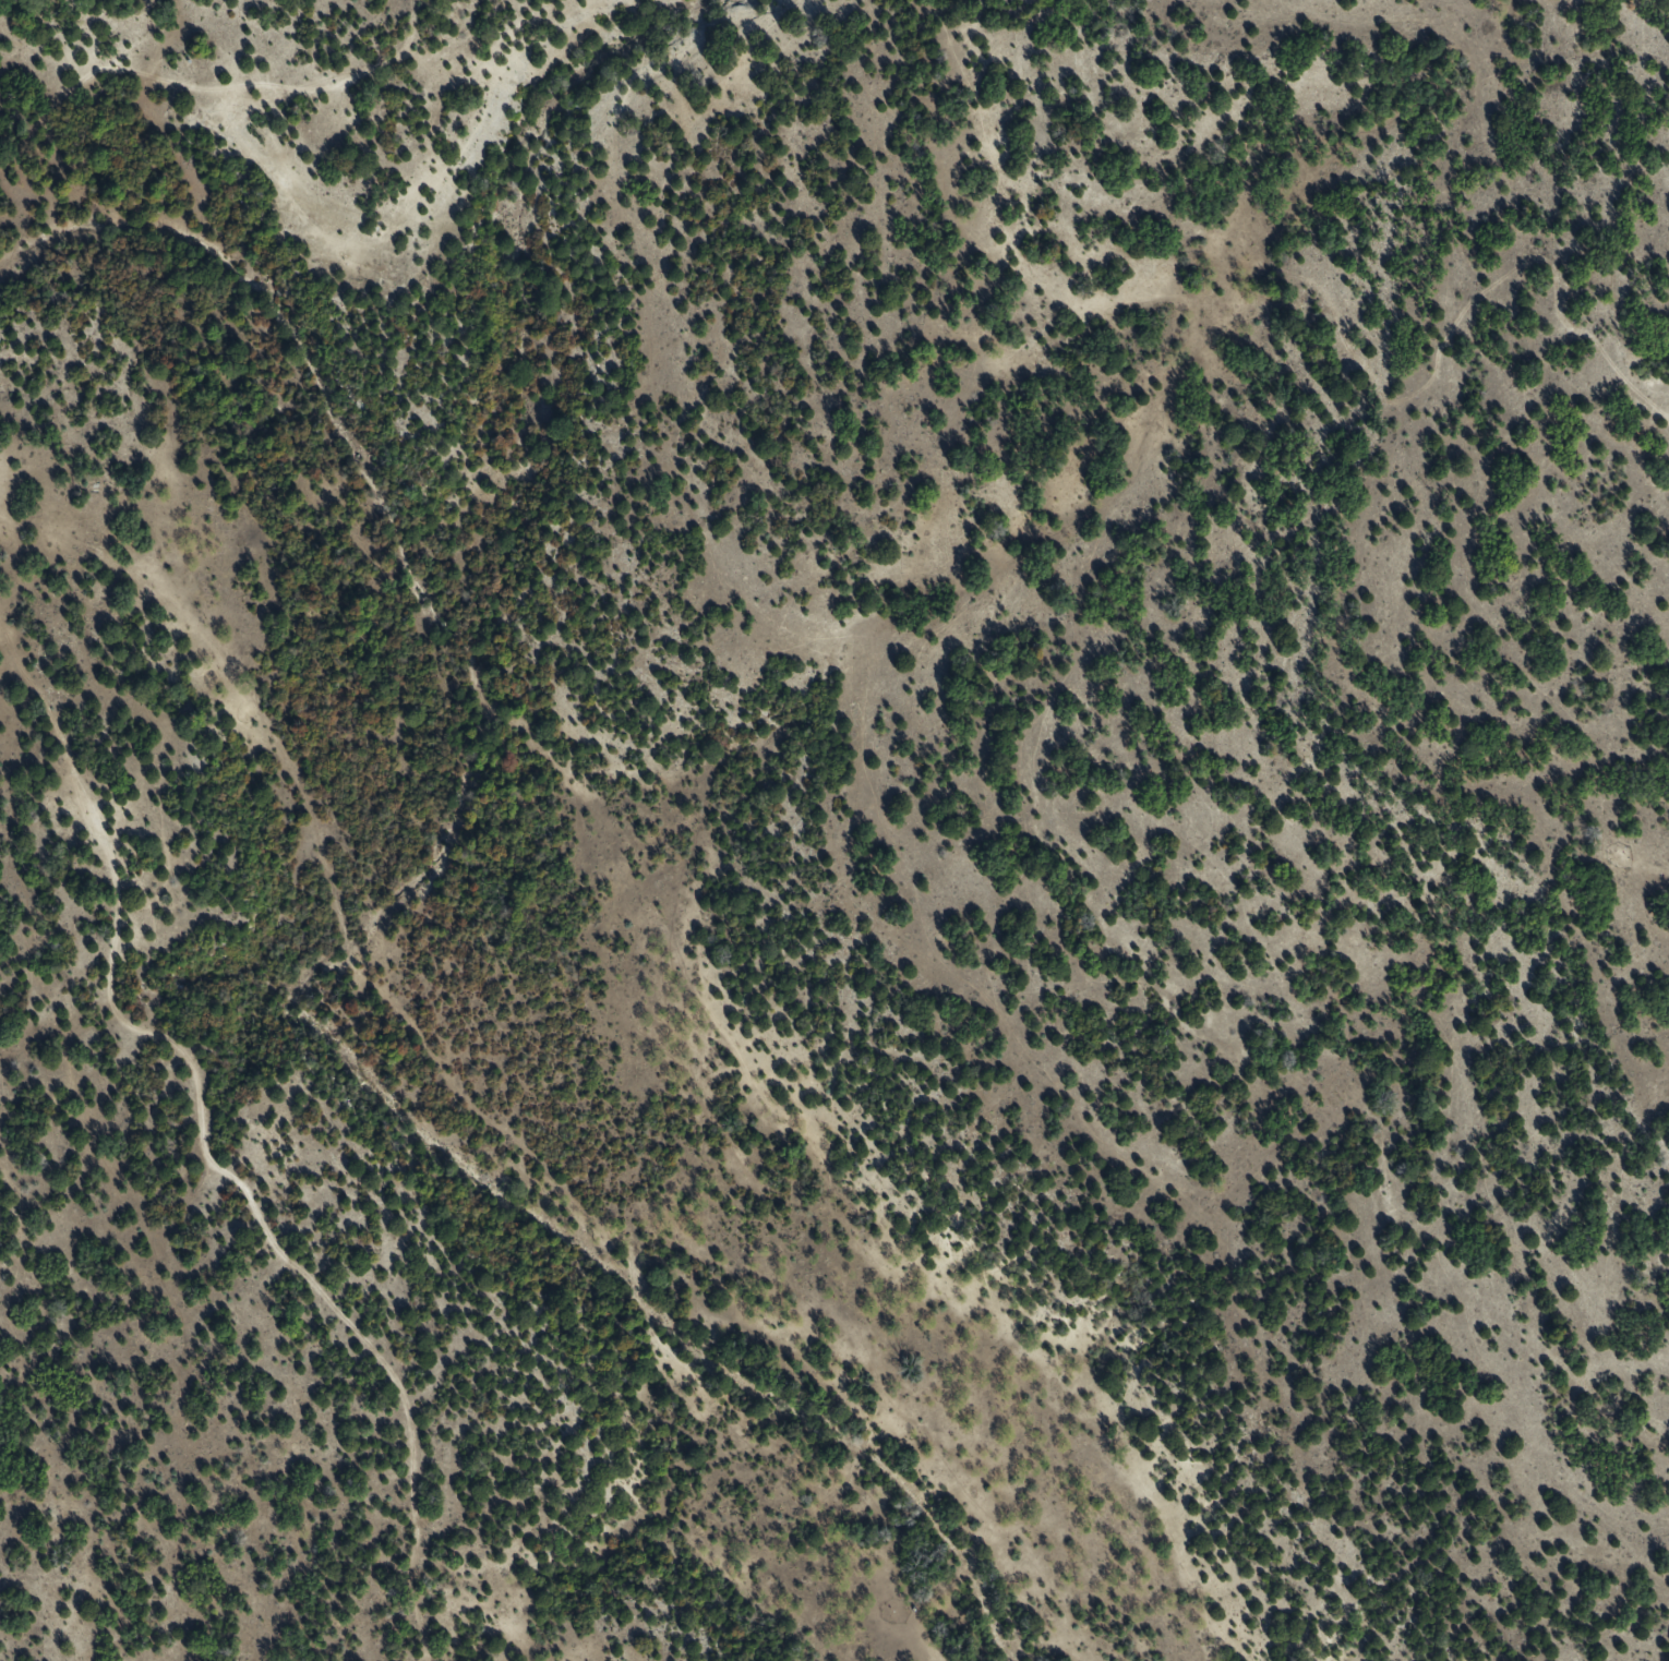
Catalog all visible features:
road: (211, 71)
road: (245, 1167)

